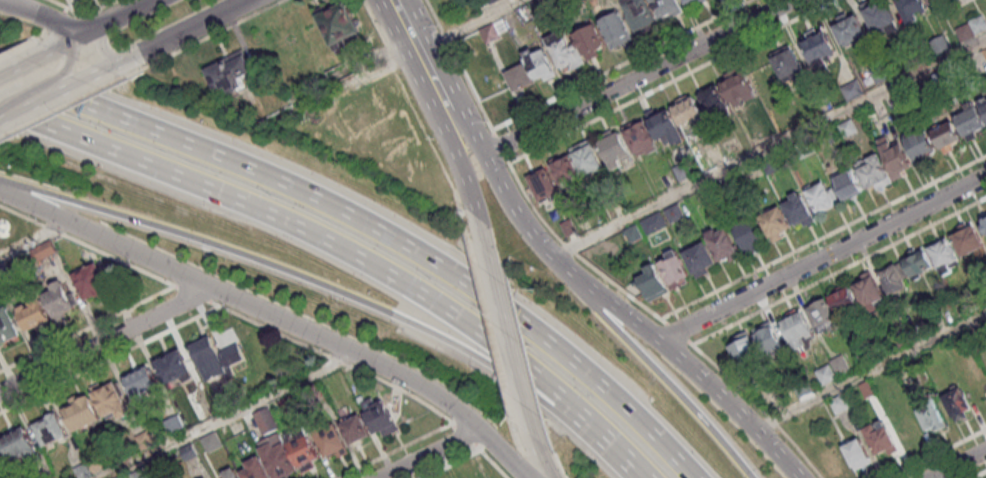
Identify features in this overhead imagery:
road: (7, 0)
road: (7, 0)
building: (493, 1)
building: (573, 1)
building: (694, 2)
building: (934, 2)
road: (59, 4)
road: (134, 4)
building: (668, 8)
building: (912, 10)
road: (95, 13)
road: (44, 15)
building: (641, 16)
building: (881, 17)
road: (56, 21)
building: (979, 25)
road: (86, 26)
road: (195, 27)
building: (340, 27)
building: (618, 31)
building: (851, 31)
road: (380, 32)
building: (966, 33)
road: (214, 34)
building: (490, 35)
road: (410, 39)
building: (591, 42)
road: (102, 43)
road: (22, 44)
building: (941, 45)
road: (75, 48)
building: (820, 51)
building: (567, 52)
road: (24, 59)
road: (401, 61)
building: (788, 64)
road: (459, 65)
road: (623, 66)
road: (114, 67)
building: (541, 67)
building: (881, 74)
building: (231, 76)
road: (638, 76)
building: (520, 80)
building: (940, 81)
road: (672, 82)
road: (57, 85)
building: (739, 89)
building: (854, 92)
road: (438, 95)
road: (72, 102)
road: (43, 104)
building: (715, 105)
building: (983, 107)
building: (689, 112)
building: (972, 124)
building: (666, 128)
building: (848, 129)
road: (467, 130)
building: (833, 136)
road: (429, 139)
building: (948, 139)
building: (642, 140)
road: (499, 145)
road: (769, 149)
building: (806, 149)
building: (921, 149)
building: (616, 151)
building: (895, 158)
building: (588, 159)
road: (489, 163)
building: (771, 166)
road: (461, 168)
building: (566, 170)
building: (685, 172)
building: (876, 175)
building: (848, 185)
building: (544, 186)
building: (732, 186)
road: (30, 191)
building: (823, 199)
building: (800, 212)
building: (675, 215)
road: (27, 218)
building: (984, 224)
building: (655, 225)
building: (776, 225)
road: (375, 228)
building: (570, 229)
road: (533, 234)
building: (634, 235)
building: (751, 237)
road: (823, 238)
road: (35, 240)
building: (969, 241)
building: (723, 248)
road: (346, 251)
road: (574, 252)
building: (944, 254)
road: (822, 259)
building: (700, 262)
building: (919, 264)
road: (839, 271)
building: (674, 272)
building: (91, 281)
building: (894, 282)
building: (653, 286)
building: (870, 294)
road: (195, 295)
road: (144, 299)
building: (59, 300)
building: (844, 301)
road: (366, 303)
building: (969, 304)
road: (226, 307)
building: (33, 313)
road: (488, 316)
road: (277, 318)
building: (823, 318)
building: (7, 324)
building: (797, 329)
road: (677, 332)
road: (506, 336)
road: (105, 339)
building: (903, 339)
building: (768, 340)
building: (745, 351)
building: (868, 356)
building: (217, 361)
building: (841, 366)
road: (870, 371)
building: (175, 372)
road: (697, 375)
building: (828, 376)
road: (668, 381)
building: (142, 386)
building: (804, 389)
building: (868, 390)
building: (109, 398)
building: (840, 405)
road: (757, 406)
building: (958, 406)
building: (83, 413)
building: (380, 415)
road: (228, 417)
building: (932, 419)
building: (356, 428)
building: (50, 429)
road: (465, 437)
building: (331, 441)
building: (19, 443)
building: (212, 443)
building: (882, 443)
road: (394, 450)
building: (189, 453)
road: (937, 453)
road: (429, 454)
road: (470, 456)
building: (857, 457)
building: (95, 463)
road: (537, 463)
road: (956, 463)
road: (494, 464)
building: (3, 465)
building: (255, 468)
building: (82, 470)
building: (230, 473)
building: (139, 474)
road: (979, 474)
building: (206, 477)

